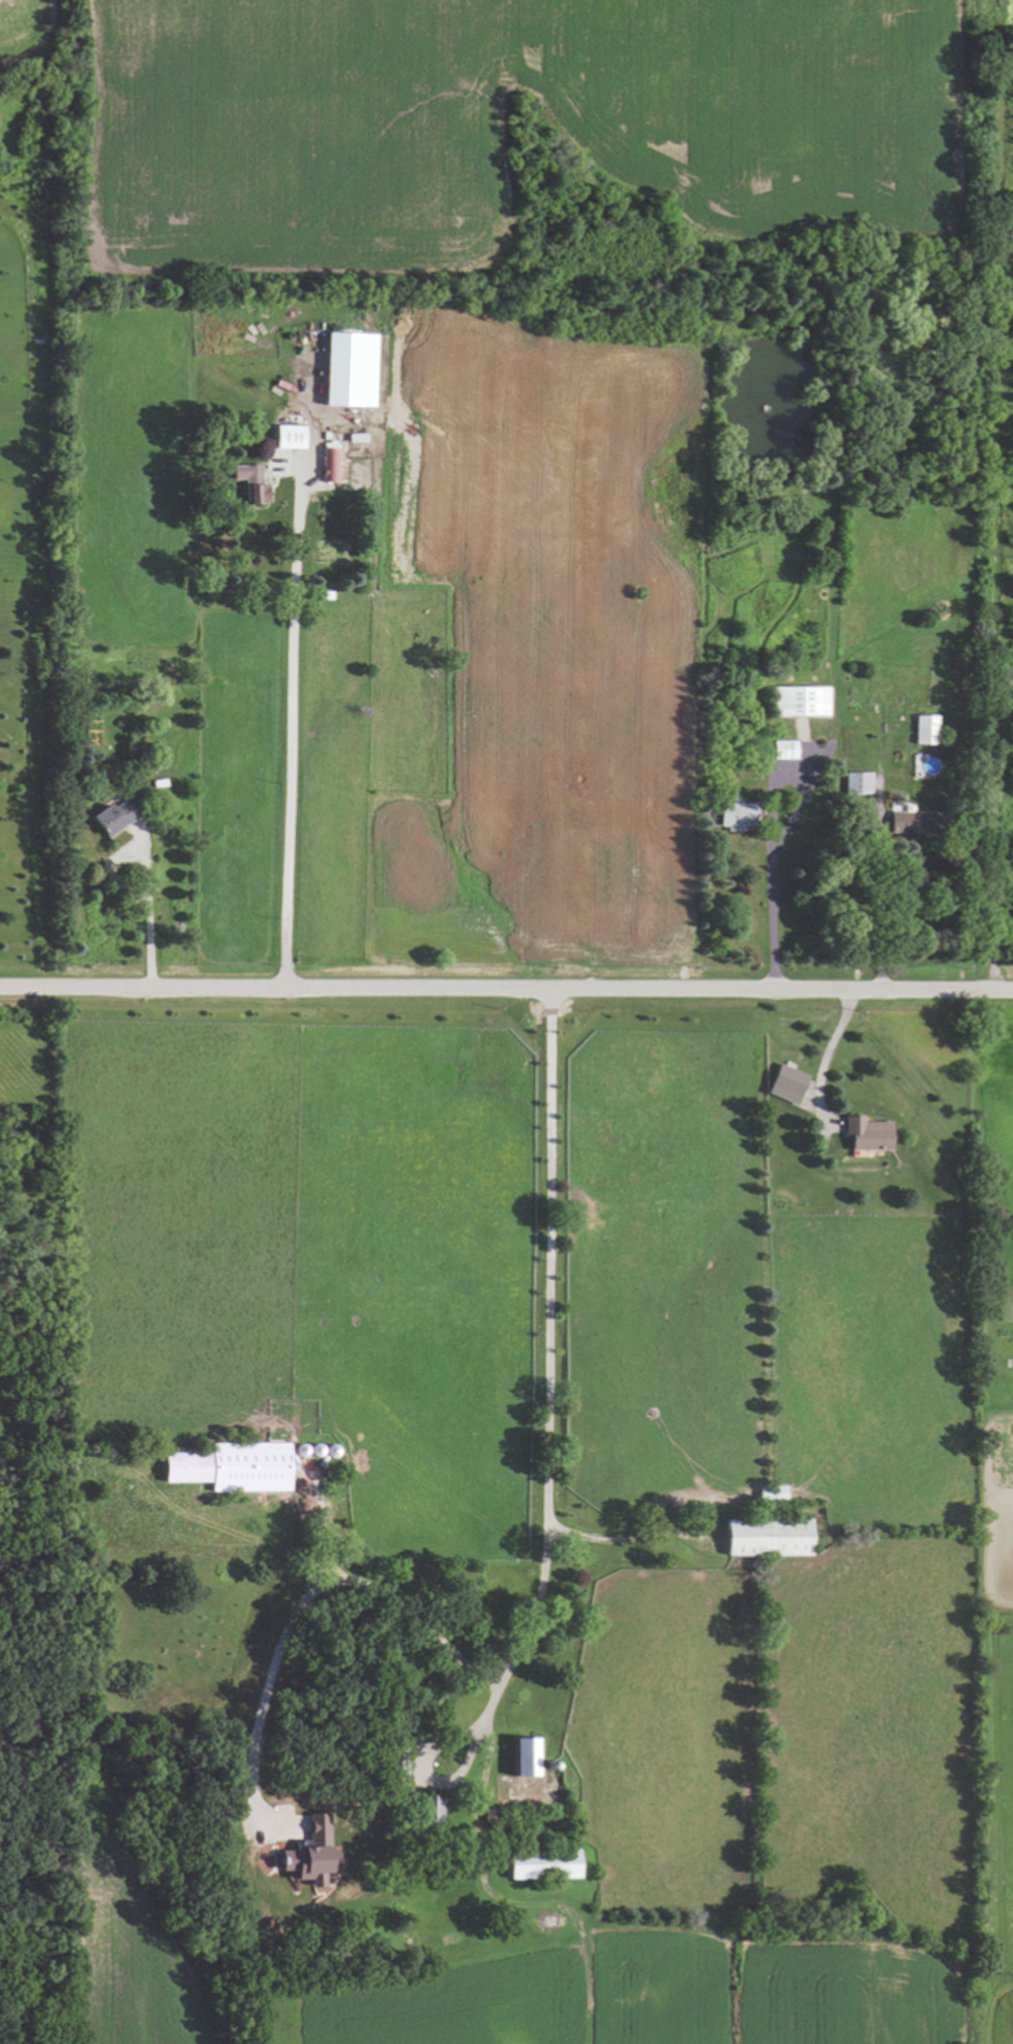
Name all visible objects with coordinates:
building: (348, 371)
building: (288, 437)
building: (329, 463)
building: (250, 483)
building: (799, 701)
road: (293, 729)
building: (924, 729)
building: (783, 749)
building: (856, 782)
building: (734, 815)
building: (111, 817)
building: (910, 823)
road: (774, 897)
road: (882, 905)
road: (148, 918)
road: (506, 991)
road: (831, 1054)
building: (786, 1079)
building: (866, 1134)
building: (231, 1466)
building: (767, 1538)
road: (543, 1569)
road: (488, 1740)
building: (523, 1758)
road: (422, 1768)
building: (434, 1809)
building: (305, 1853)
building: (542, 1866)

